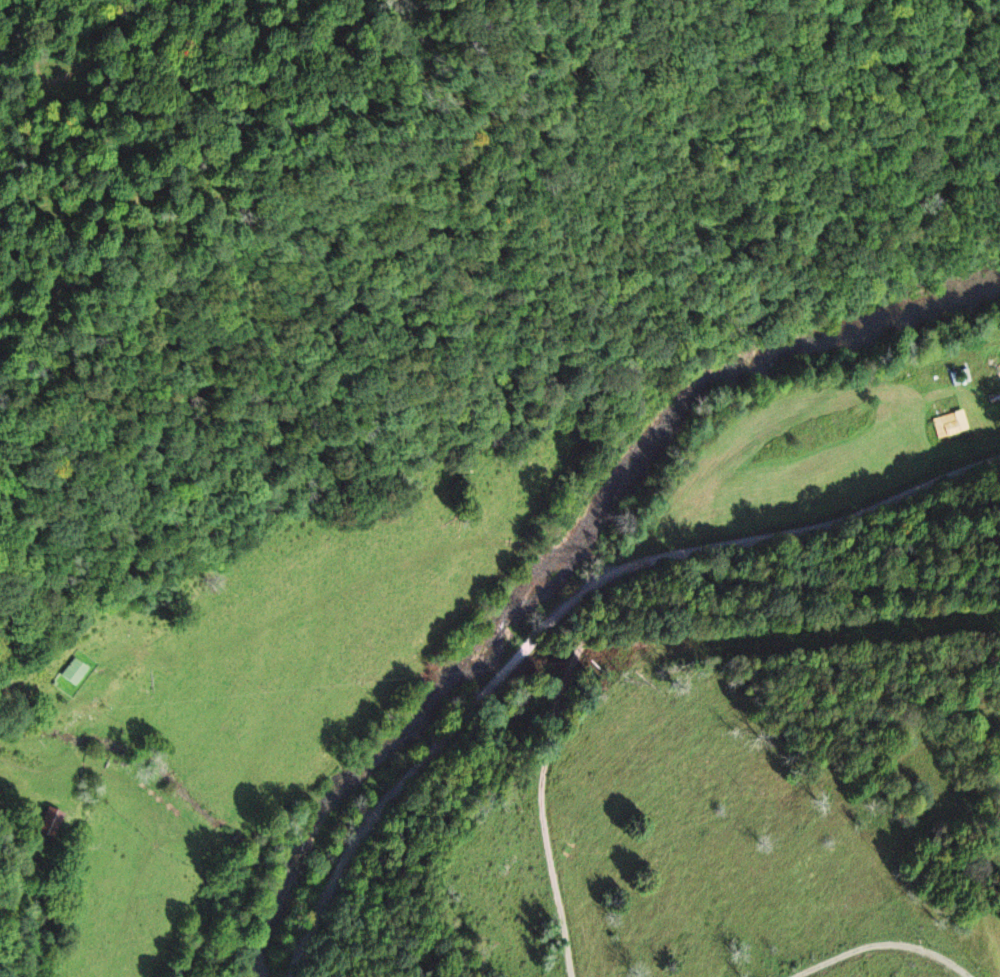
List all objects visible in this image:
building: (949, 424)
road: (887, 505)
river: (563, 553)
road: (813, 584)
road: (323, 606)
building: (72, 671)
road: (17, 691)
road: (481, 696)
road: (546, 807)
road: (879, 946)

